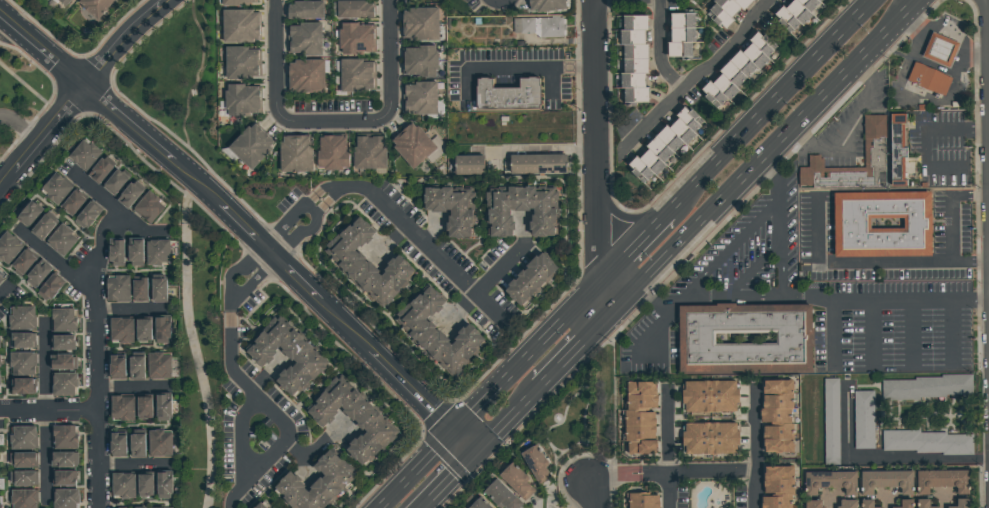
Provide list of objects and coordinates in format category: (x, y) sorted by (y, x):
building: (64, 2)
building: (235, 2)
road: (914, 2)
road: (916, 2)
road: (987, 3)
building: (545, 6)
building: (98, 7)
building: (354, 10)
building: (725, 10)
building: (304, 11)
building: (794, 13)
building: (419, 25)
building: (239, 27)
building: (552, 29)
road: (593, 33)
building: (679, 34)
building: (355, 39)
building: (304, 40)
road: (661, 47)
building: (941, 49)
road: (41, 51)
road: (281, 59)
building: (633, 59)
road: (387, 60)
building: (418, 62)
building: (240, 64)
road: (516, 67)
building: (738, 70)
road: (698, 71)
building: (304, 76)
building: (356, 76)
building: (930, 79)
road: (31, 86)
road: (80, 89)
park: (21, 96)
building: (507, 96)
building: (419, 99)
building: (241, 101)
road: (774, 103)
road: (334, 119)
road: (21, 126)
road: (923, 139)
building: (412, 146)
building: (250, 147)
building: (872, 147)
building: (667, 148)
road: (529, 150)
building: (896, 150)
building: (295, 154)
building: (331, 154)
building: (368, 154)
building: (84, 155)
road: (760, 158)
building: (536, 164)
building: (467, 165)
building: (99, 172)
road: (775, 173)
building: (114, 183)
building: (55, 188)
road: (596, 190)
building: (128, 197)
building: (72, 204)
road: (111, 207)
building: (148, 208)
building: (452, 209)
road: (949, 209)
road: (297, 211)
building: (29, 214)
building: (87, 215)
building: (542, 223)
road: (308, 225)
building: (856, 225)
building: (42, 228)
building: (60, 240)
road: (636, 245)
building: (9, 246)
road: (730, 248)
road: (780, 249)
building: (136, 251)
building: (117, 252)
building: (158, 252)
road: (273, 254)
road: (435, 256)
building: (25, 262)
road: (57, 262)
road: (869, 263)
building: (366, 264)
road: (237, 270)
building: (0, 273)
building: (38, 274)
building: (1, 279)
road: (254, 279)
building: (529, 280)
building: (51, 287)
building: (118, 288)
building: (142, 288)
building: (161, 289)
road: (3, 294)
road: (649, 296)
road: (732, 296)
road: (885, 298)
road: (232, 305)
road: (130, 311)
building: (21, 318)
building: (64, 319)
building: (145, 328)
building: (164, 328)
building: (122, 330)
building: (436, 332)
road: (873, 332)
road: (648, 333)
road: (912, 333)
road: (951, 333)
road: (828, 335)
building: (743, 338)
building: (24, 339)
building: (0, 340)
building: (65, 342)
road: (196, 346)
road: (573, 351)
building: (301, 356)
road: (96, 357)
building: (0, 359)
road: (526, 359)
building: (65, 361)
building: (23, 363)
building: (160, 365)
building: (119, 366)
building: (139, 367)
road: (46, 368)
building: (0, 382)
building: (65, 383)
building: (23, 385)
building: (925, 388)
road: (132, 390)
building: (709, 396)
building: (123, 407)
building: (146, 407)
building: (165, 407)
road: (48, 411)
road: (275, 412)
building: (776, 417)
building: (639, 418)
building: (350, 420)
building: (863, 420)
road: (506, 422)
building: (830, 422)
traffic signals: (454, 434)
road: (239, 435)
building: (24, 437)
building: (66, 437)
building: (710, 439)
building: (160, 442)
building: (927, 442)
building: (120, 444)
road: (464, 444)
building: (139, 445)
road: (753, 448)
road: (315, 450)
road: (666, 450)
road: (45, 453)
traffic signals: (475, 455)
road: (884, 457)
building: (25, 459)
building: (65, 459)
road: (133, 465)
building: (535, 465)
road: (417, 471)
road: (696, 472)
road: (617, 474)
building: (66, 477)
building: (24, 478)
road: (449, 481)
building: (515, 482)
building: (829, 482)
building: (885, 482)
building: (940, 482)
building: (147, 484)
building: (165, 484)
building: (314, 484)
building: (123, 485)
building: (777, 487)
road: (596, 491)
building: (500, 496)
building: (65, 498)
building: (23, 499)
building: (642, 501)
road: (830, 502)
building: (960, 503)
building: (478, 504)
building: (812, 504)
building: (846, 504)
building: (866, 504)
building: (905, 504)
building: (923, 504)
building: (262, 505)
building: (0, 506)
building: (159, 507)

